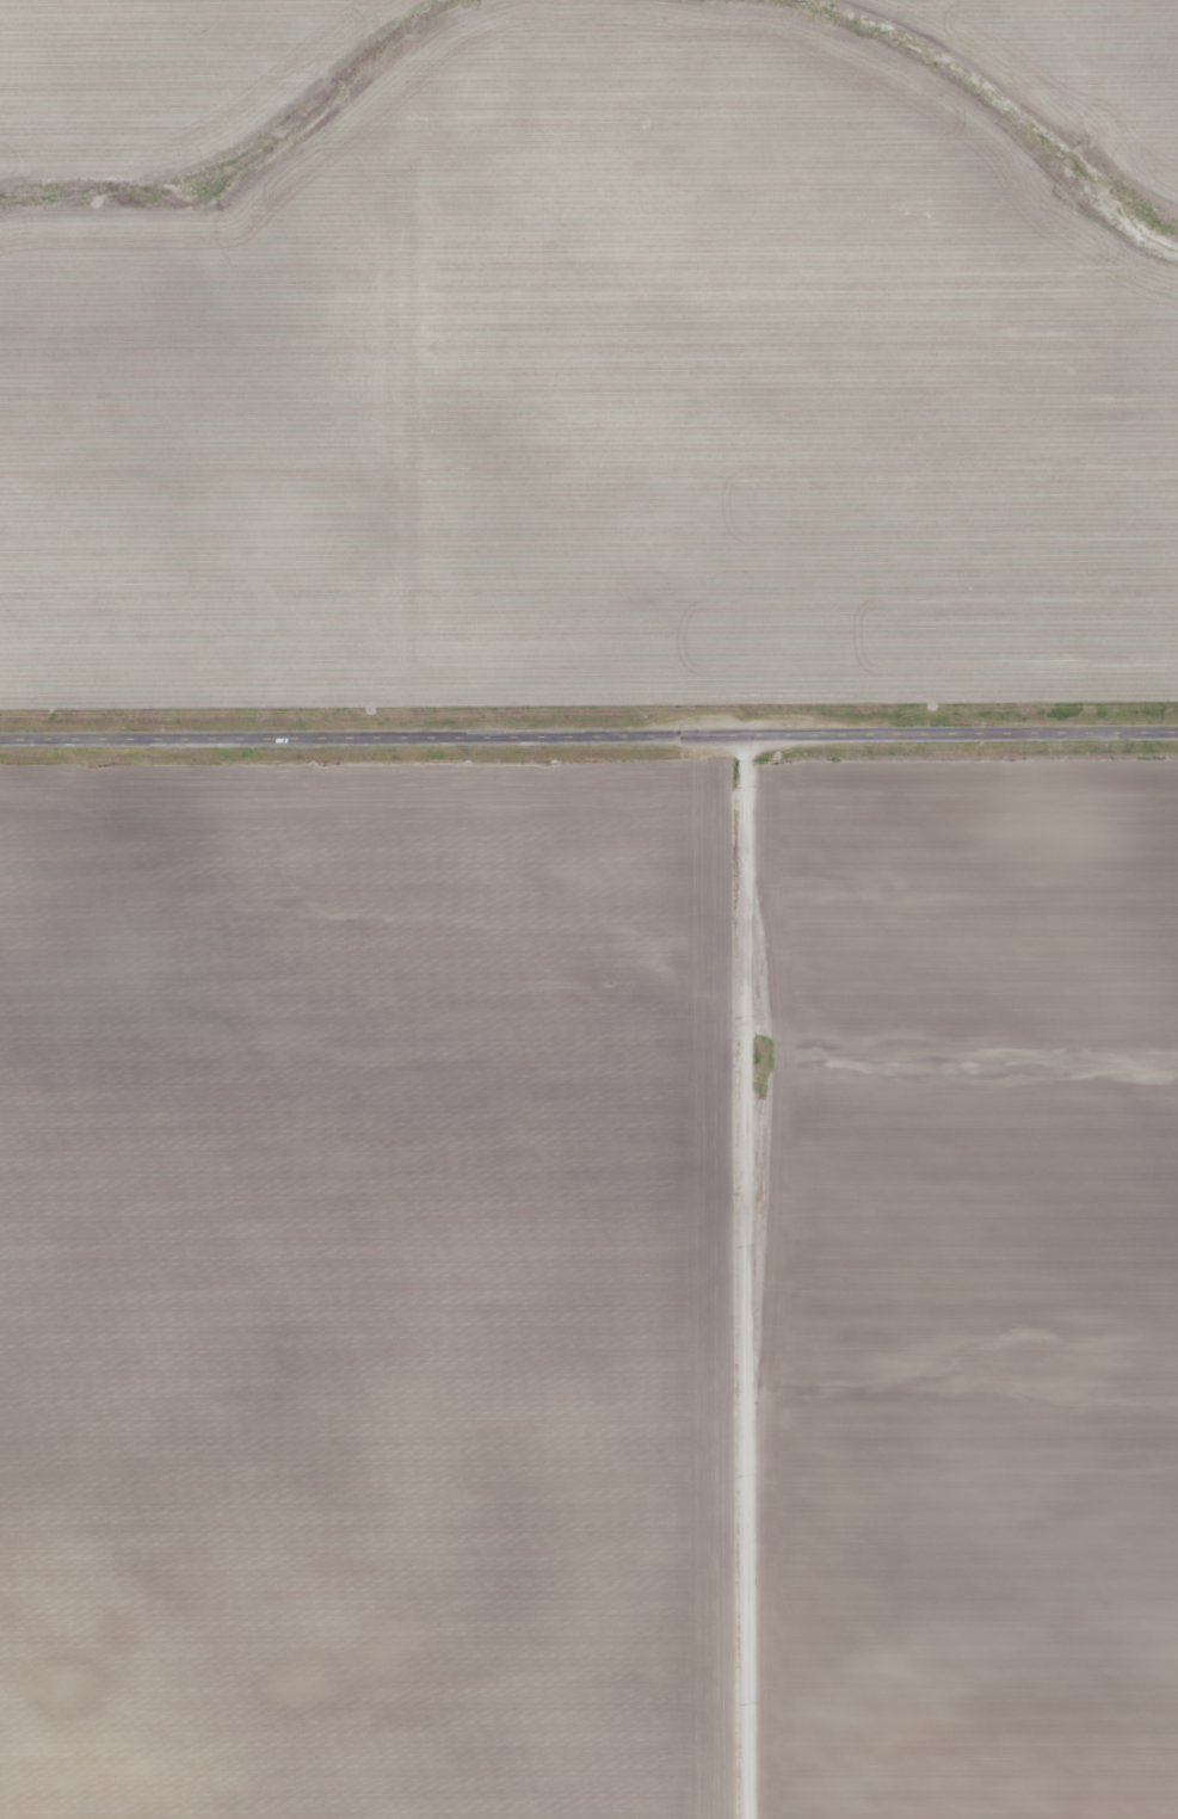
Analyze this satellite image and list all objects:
road: (588, 735)
road: (745, 1276)

